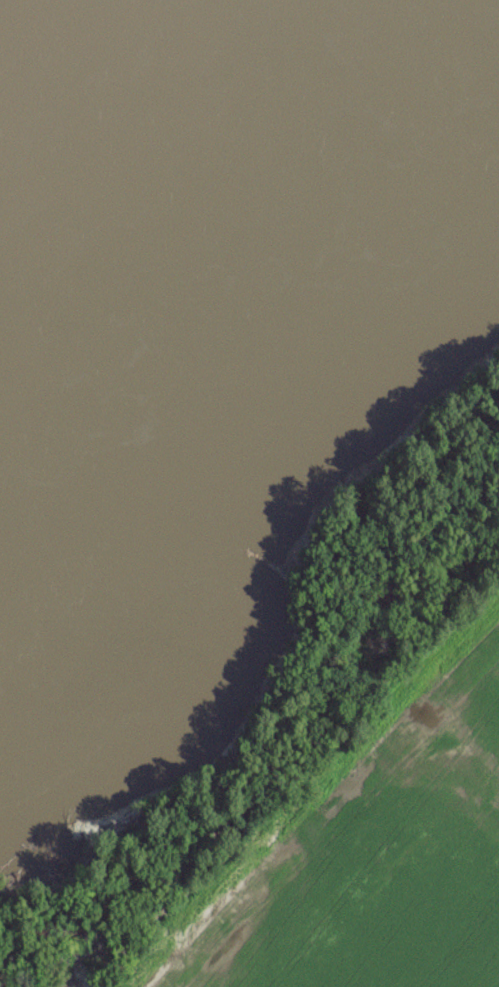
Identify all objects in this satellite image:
river: (108, 101)
crop: (390, 857)

